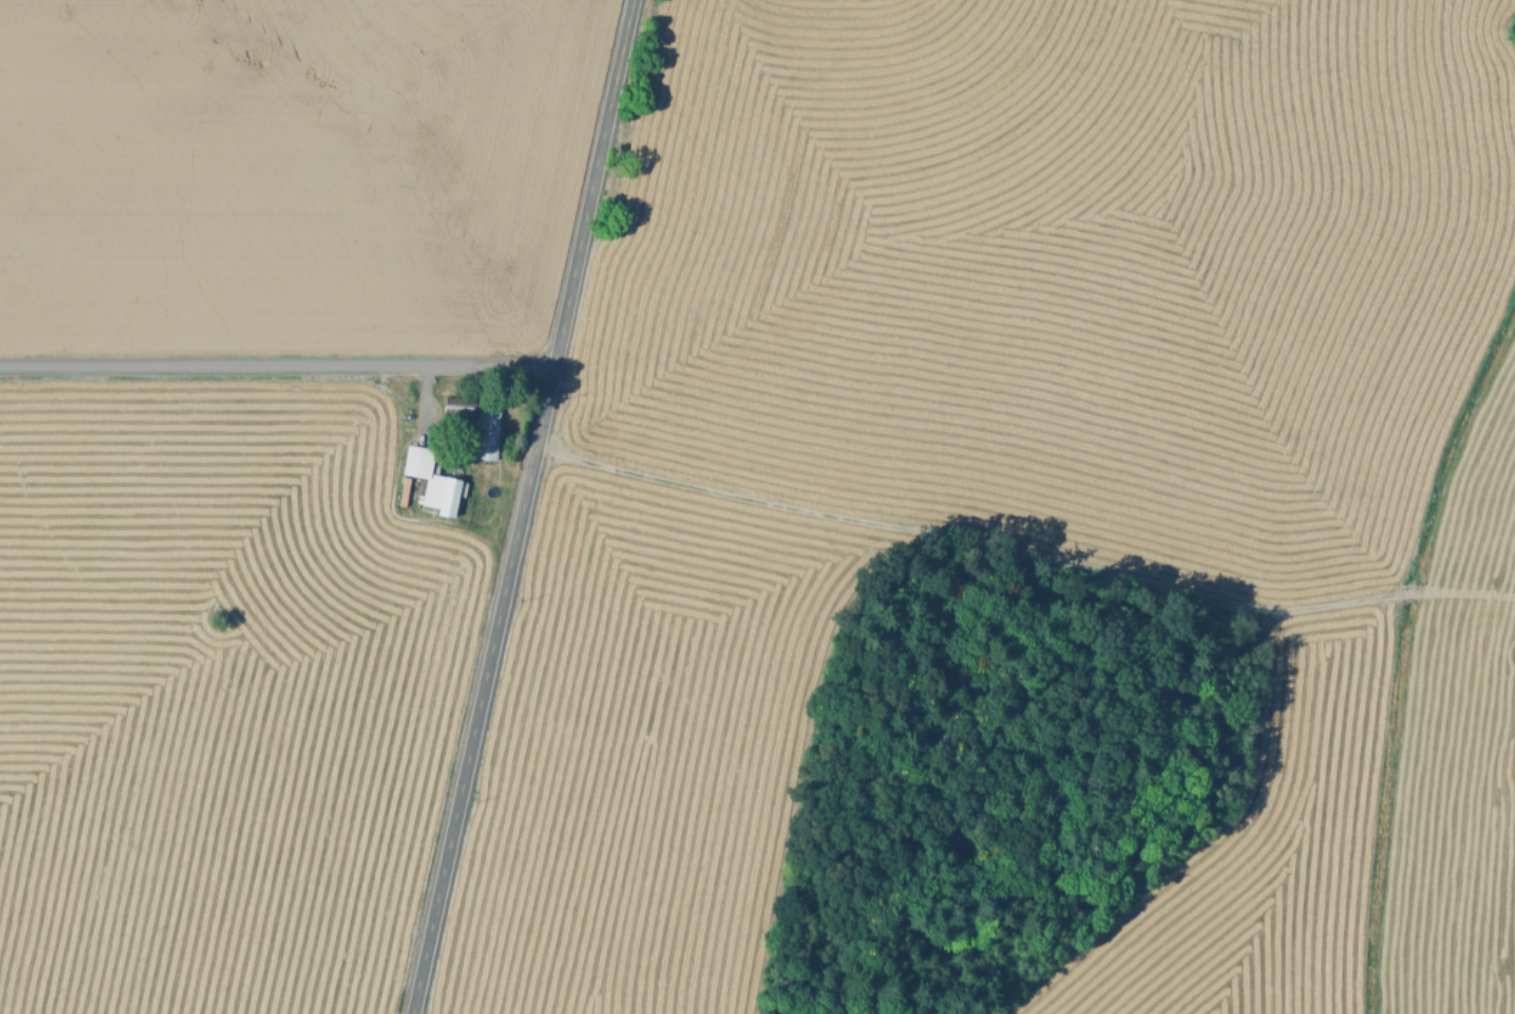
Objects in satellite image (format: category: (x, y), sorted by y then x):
crop: (291, 172)
road: (276, 363)
building: (458, 404)
building: (485, 433)
building: (438, 479)
road: (521, 507)
road: (1022, 550)

